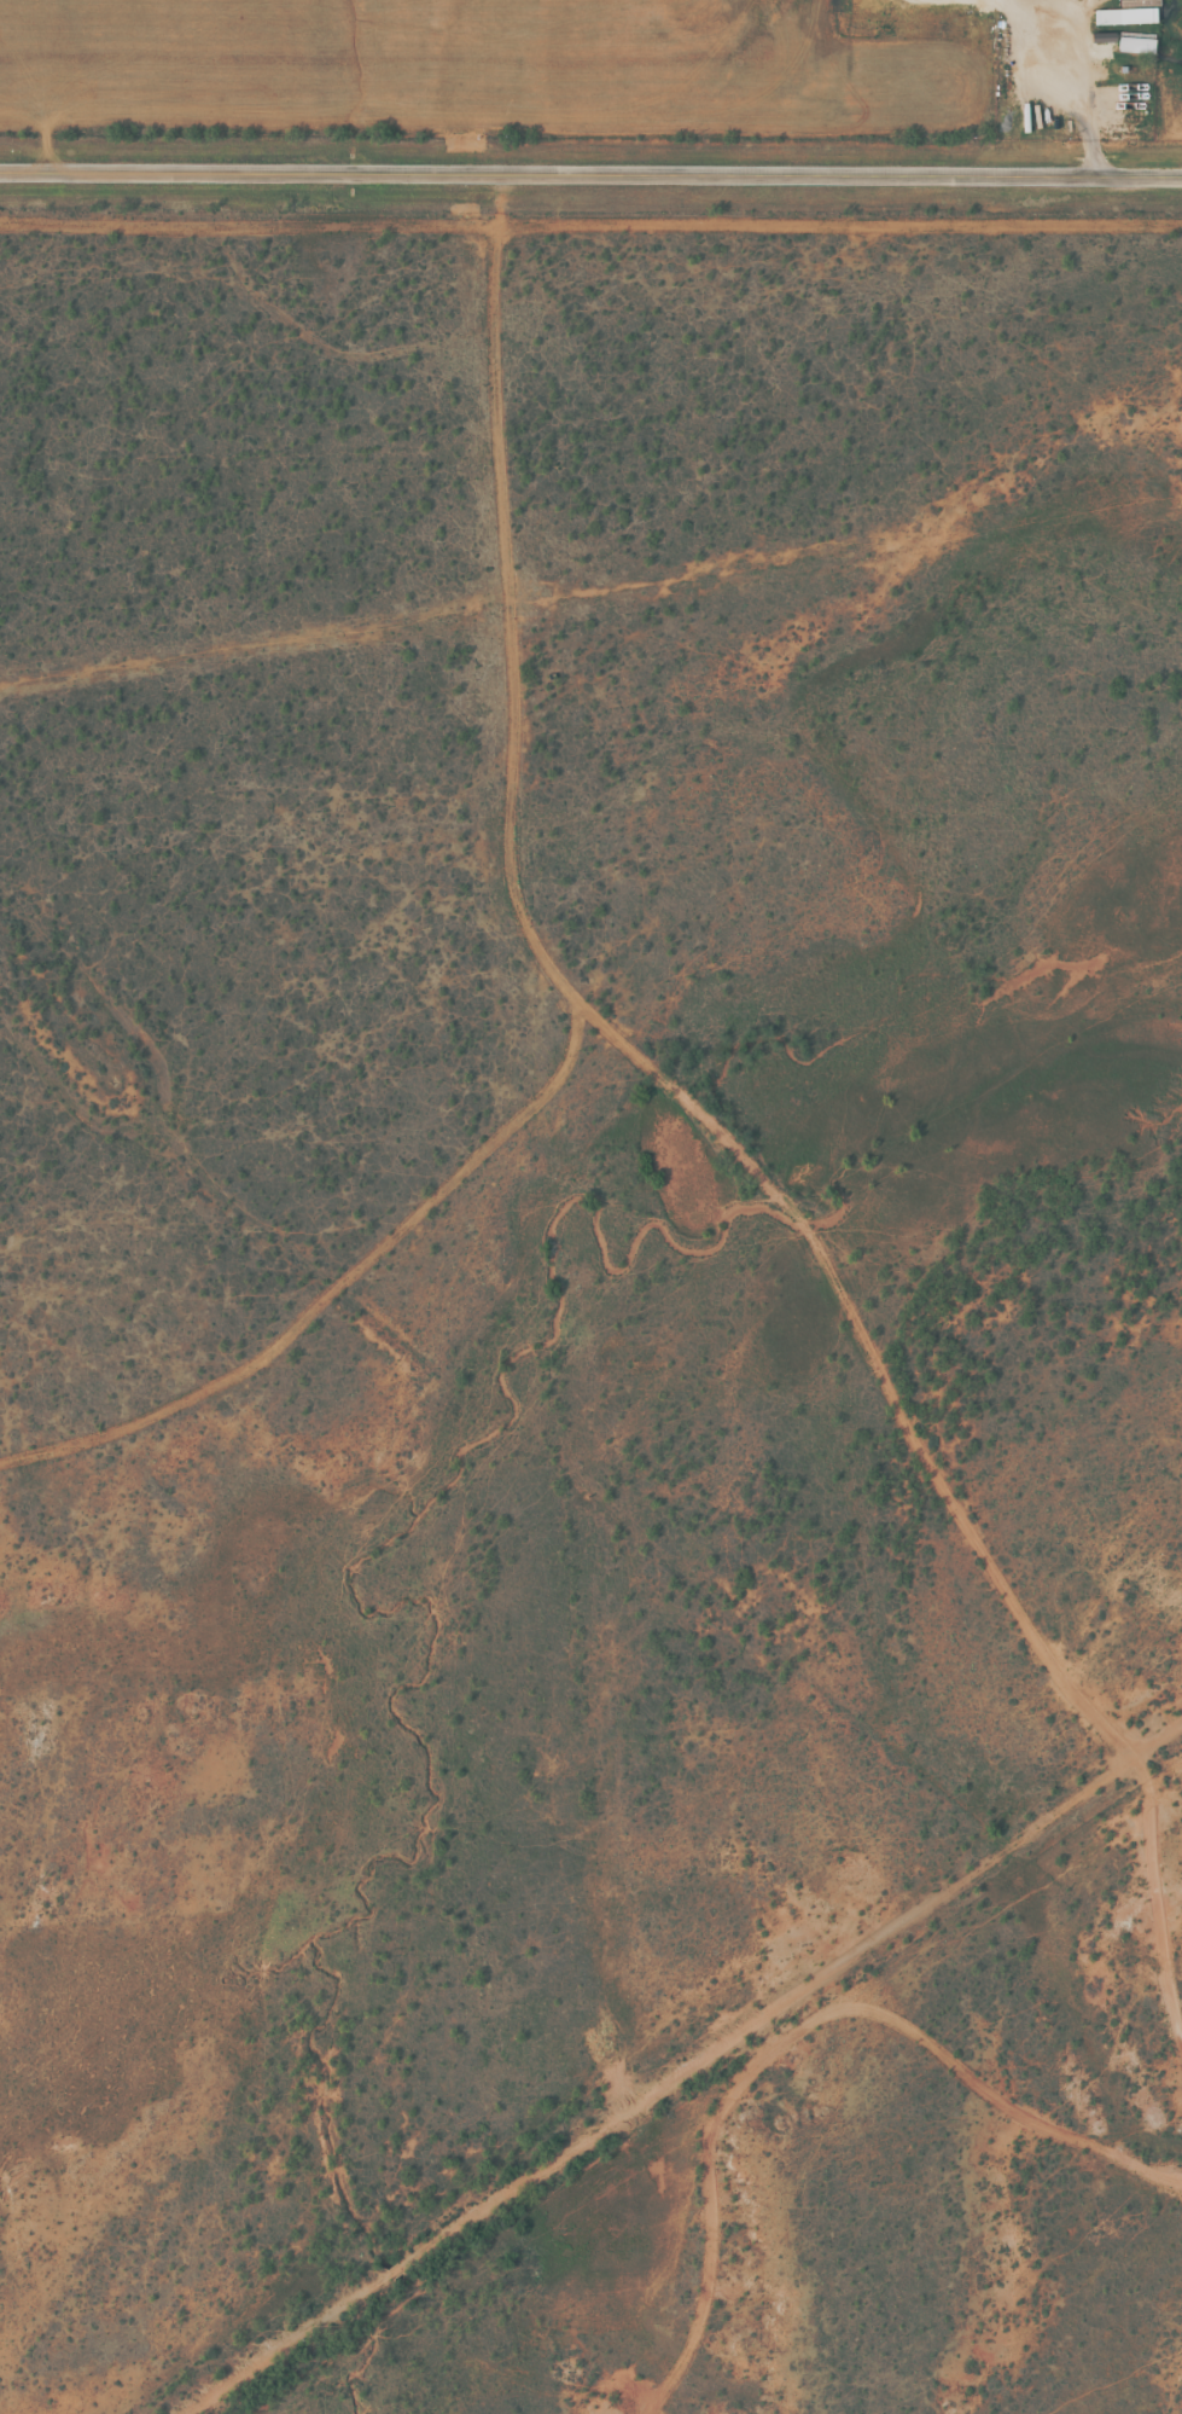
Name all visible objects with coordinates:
building: (1130, 22)
building: (1135, 53)
road: (590, 178)
railway: (705, 2087)

